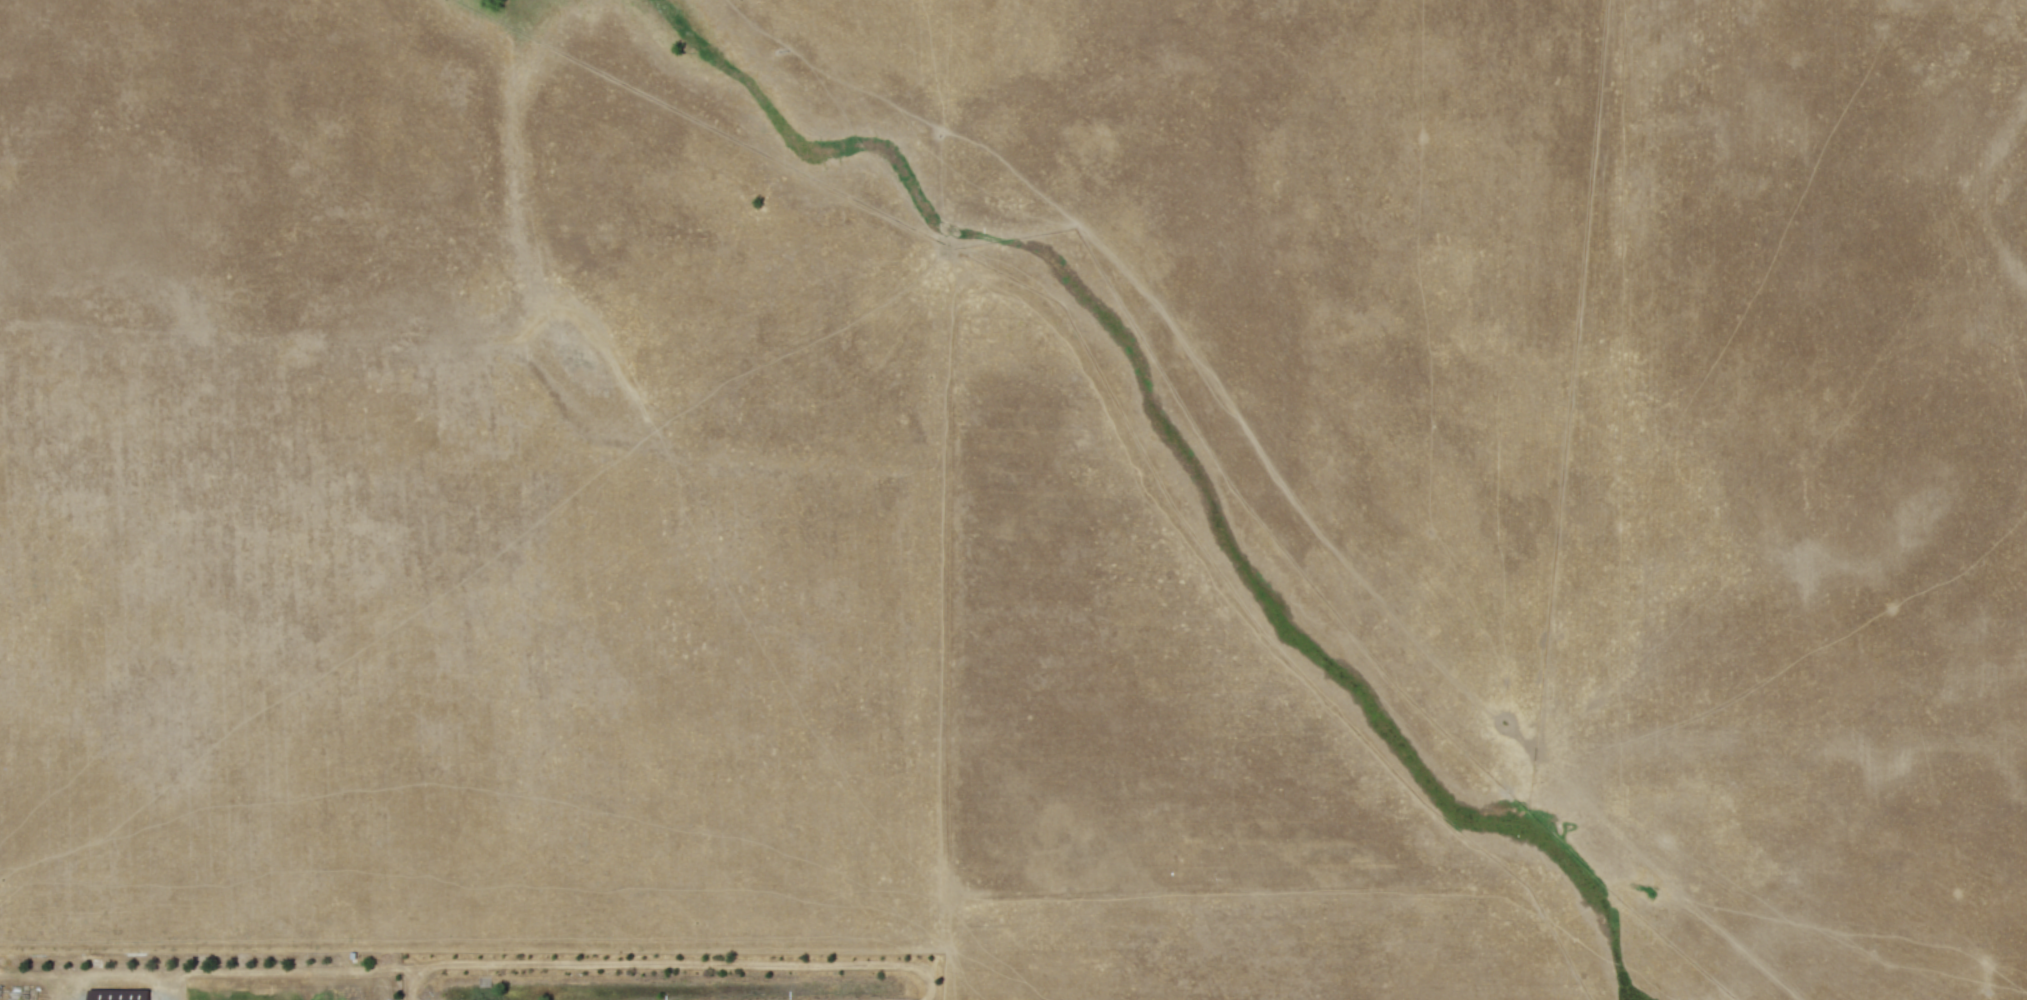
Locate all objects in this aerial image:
crop: (1086, 544)
building: (117, 993)

